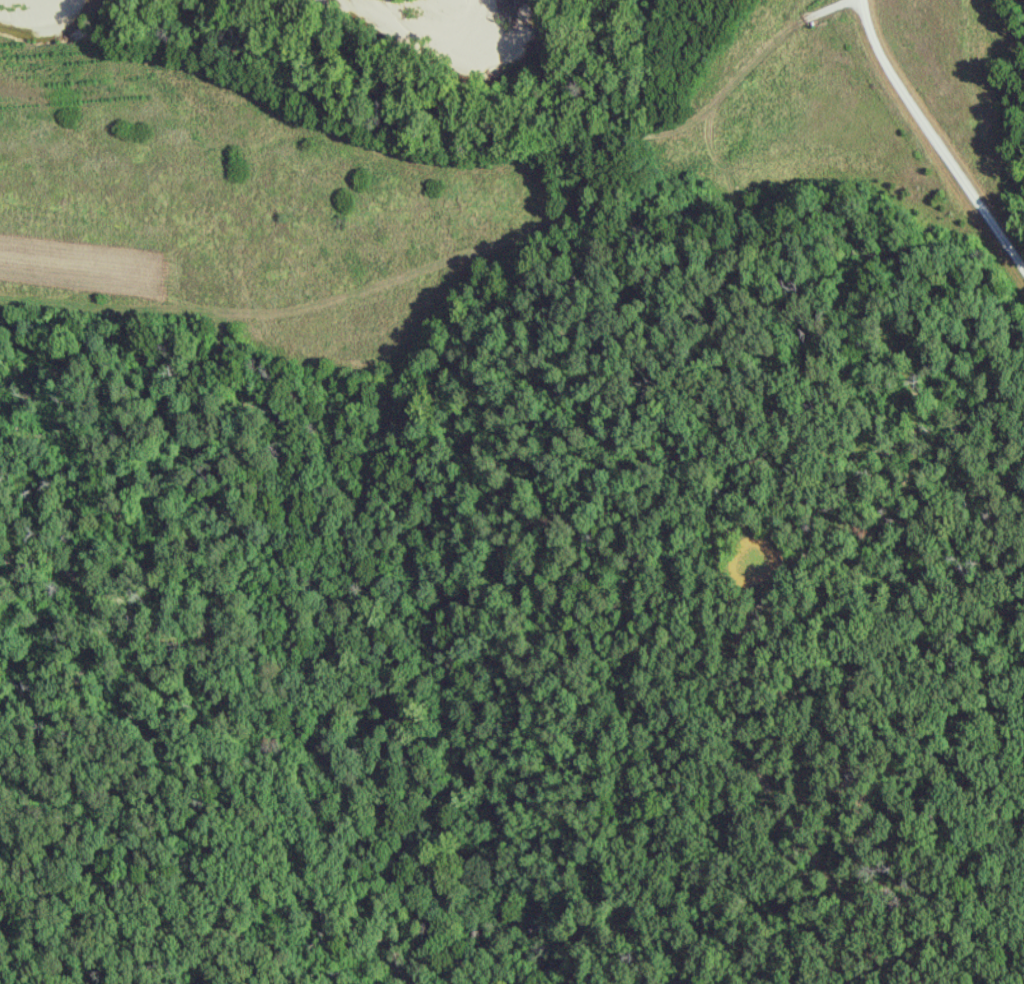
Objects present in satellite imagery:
road: (936, 135)
road: (475, 250)
road: (236, 590)

